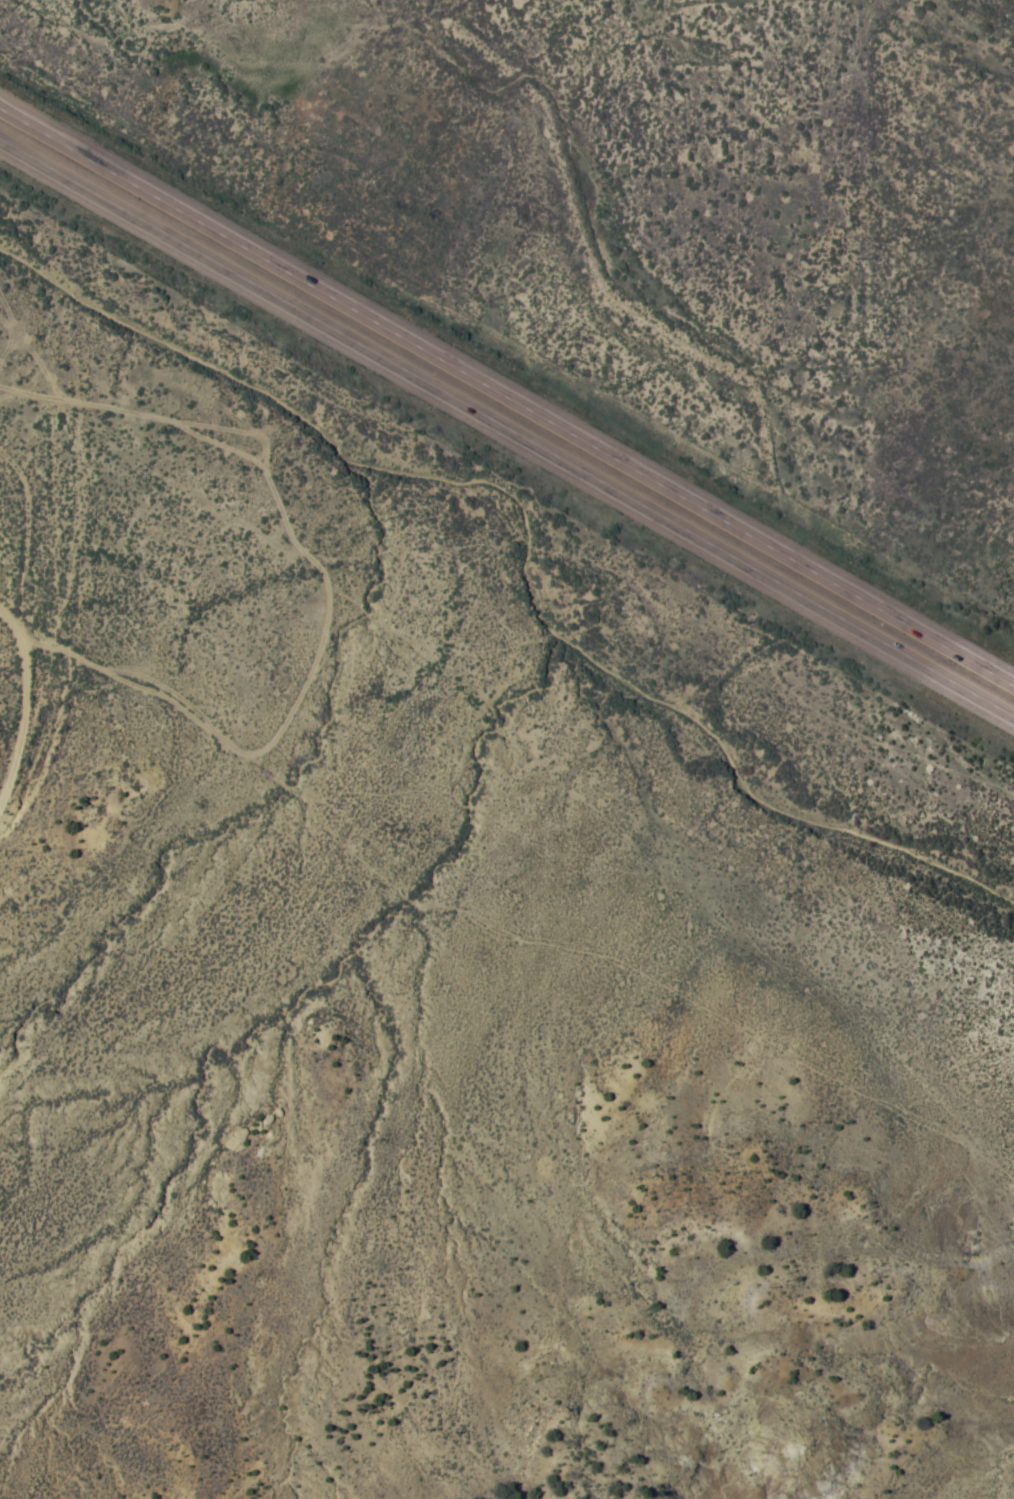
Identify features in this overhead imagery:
road: (507, 394)
road: (506, 429)
road: (35, 538)
road: (538, 854)

